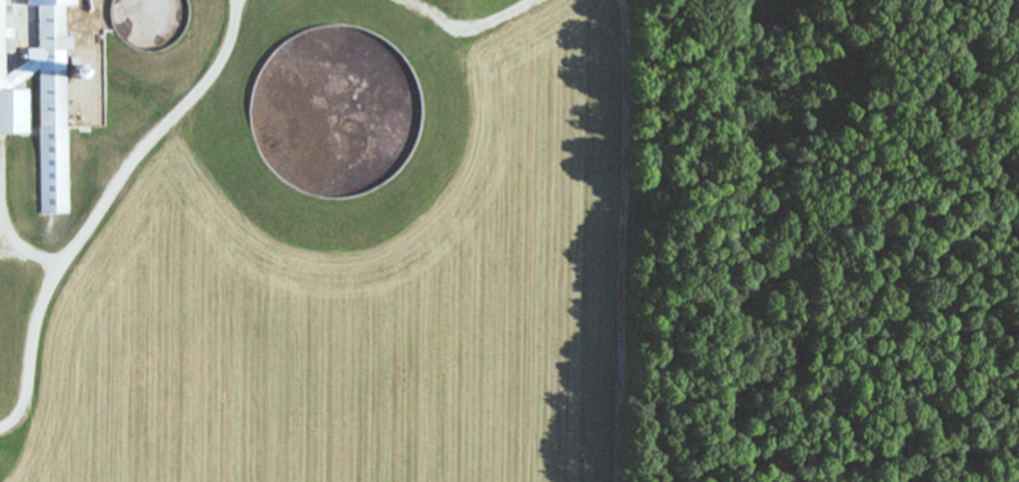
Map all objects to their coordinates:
road: (15, 9)
building: (52, 100)
road: (137, 151)

